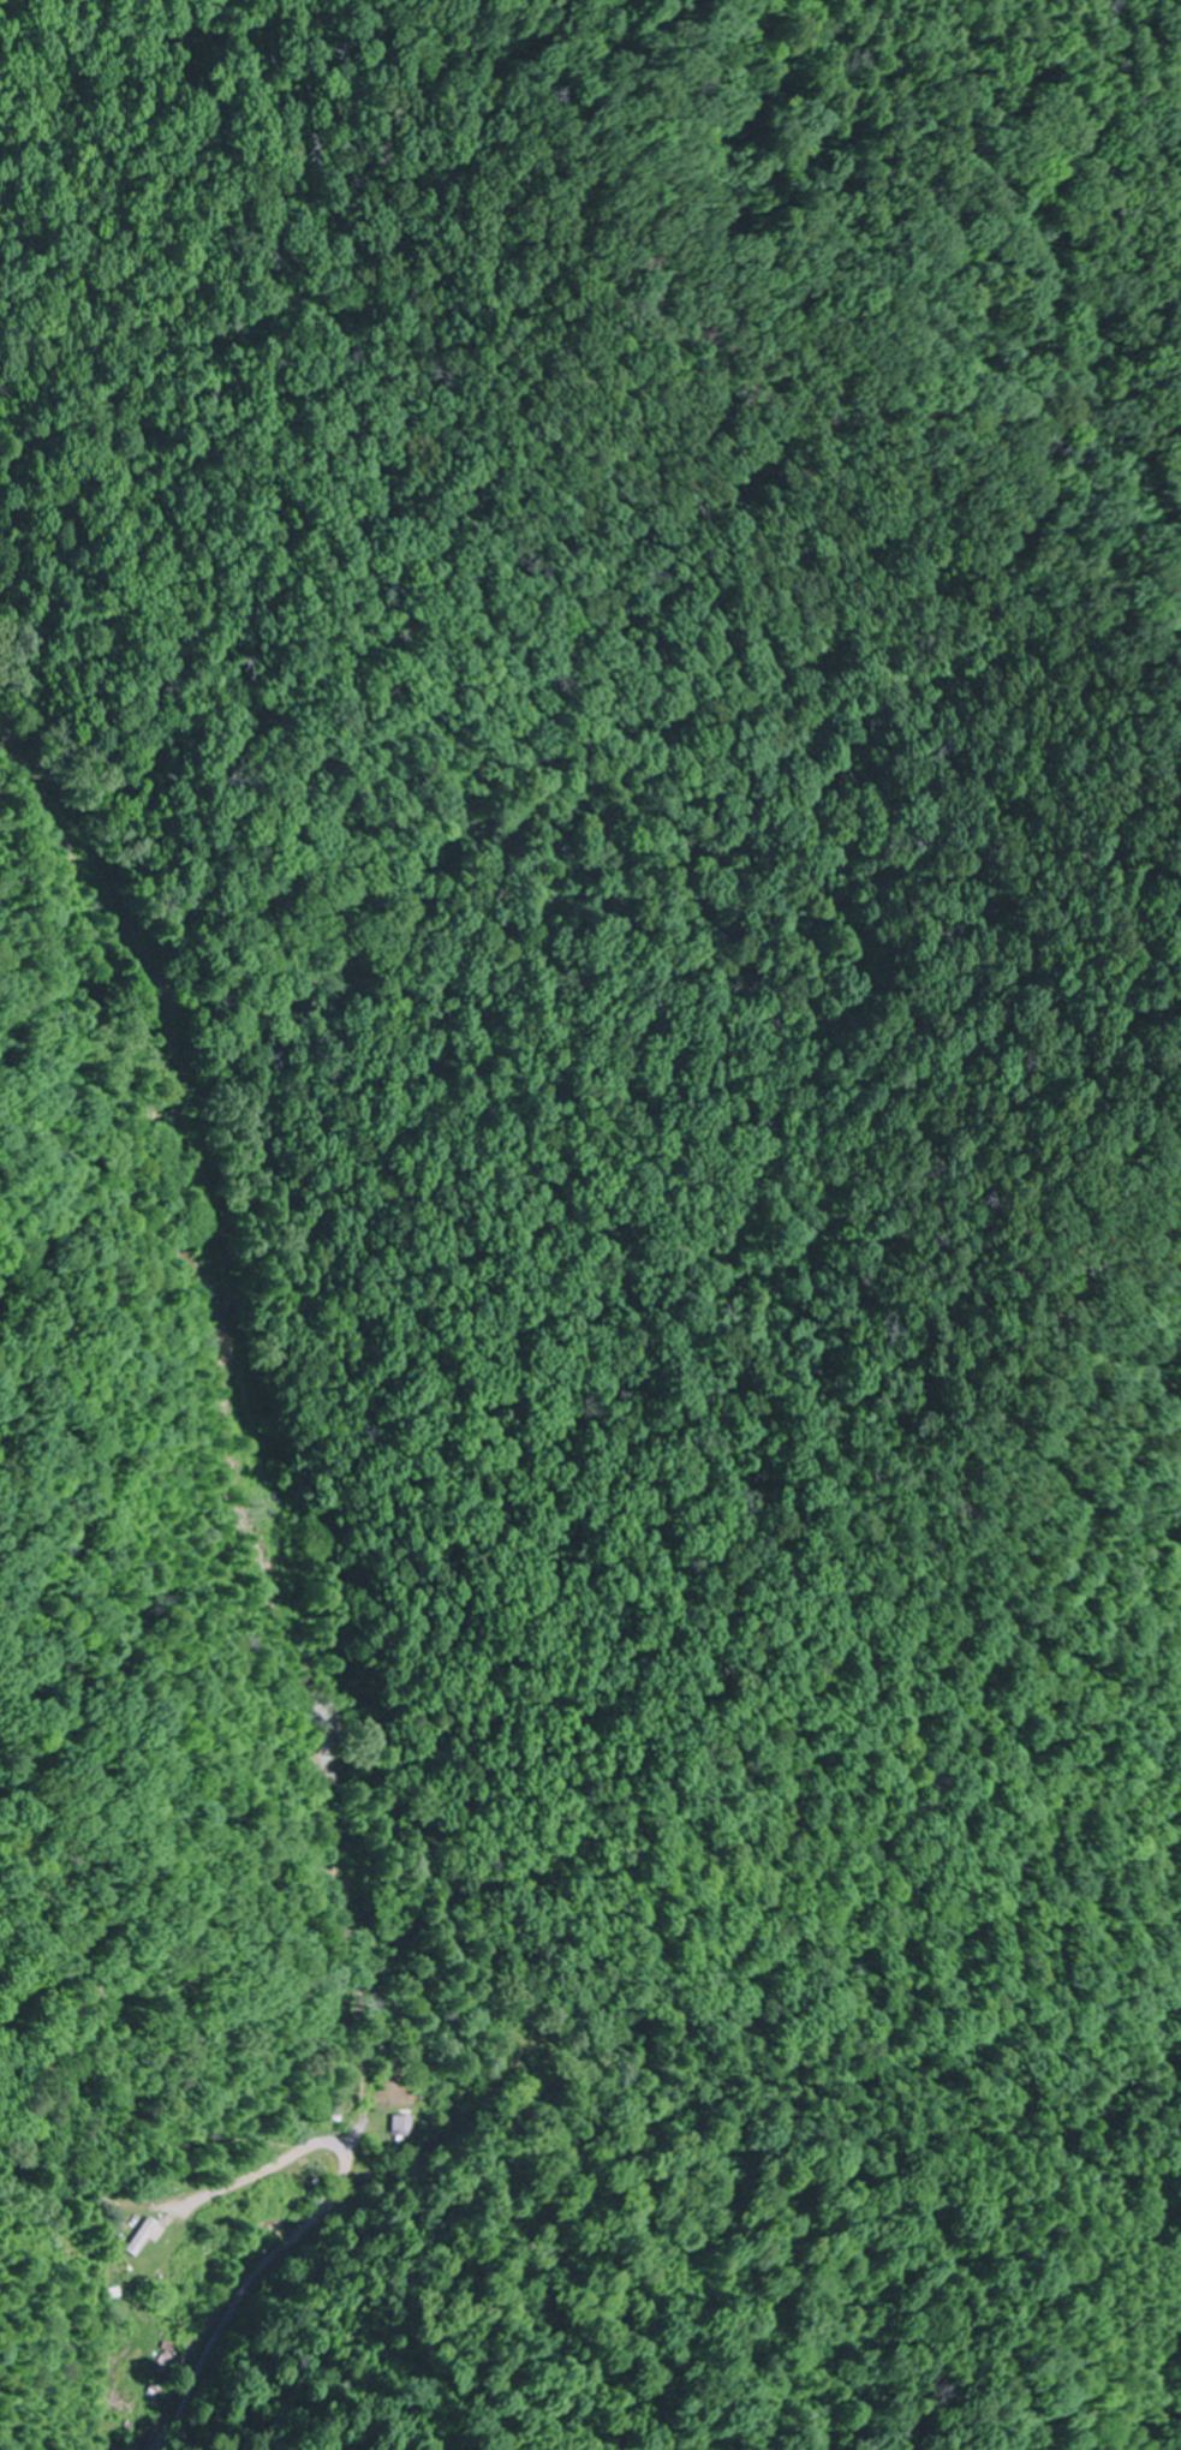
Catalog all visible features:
road: (278, 1609)
building: (399, 2126)
building: (147, 2237)

